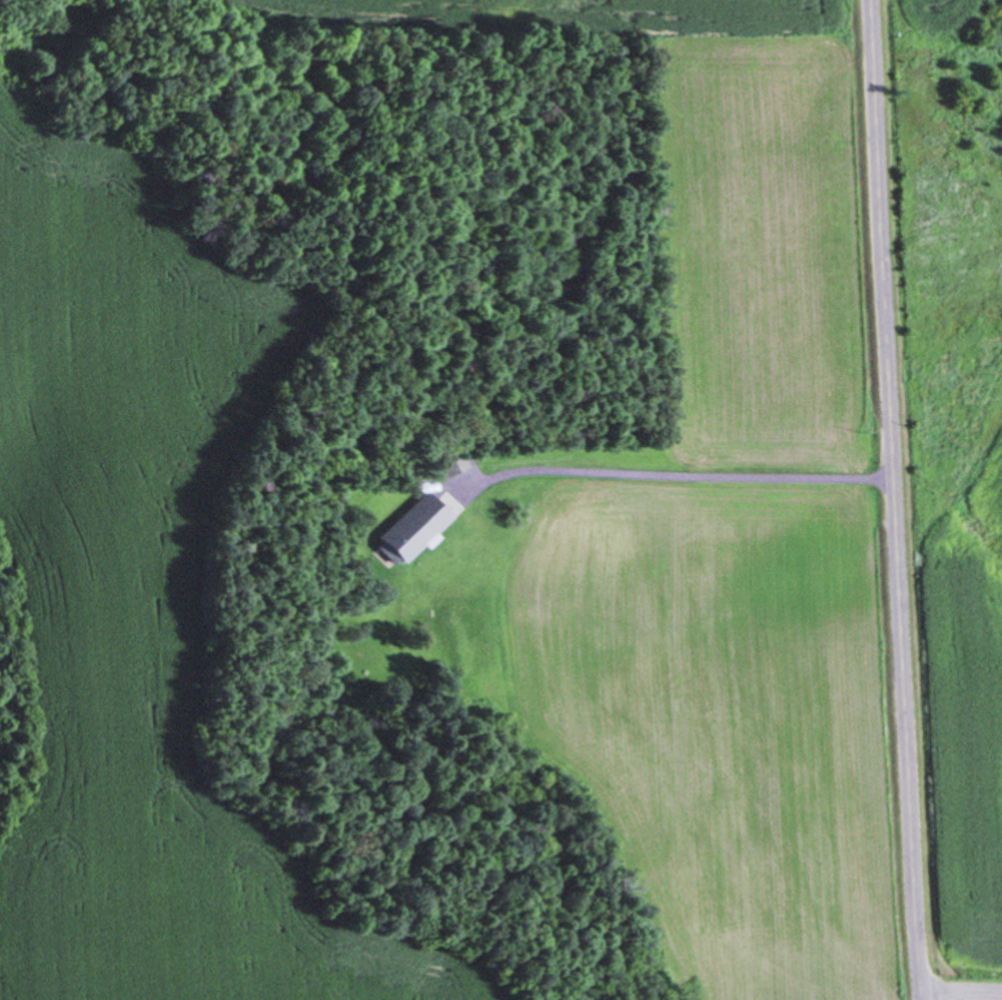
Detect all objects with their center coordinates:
road: (675, 477)
road: (898, 500)
building: (410, 531)
road: (964, 988)

